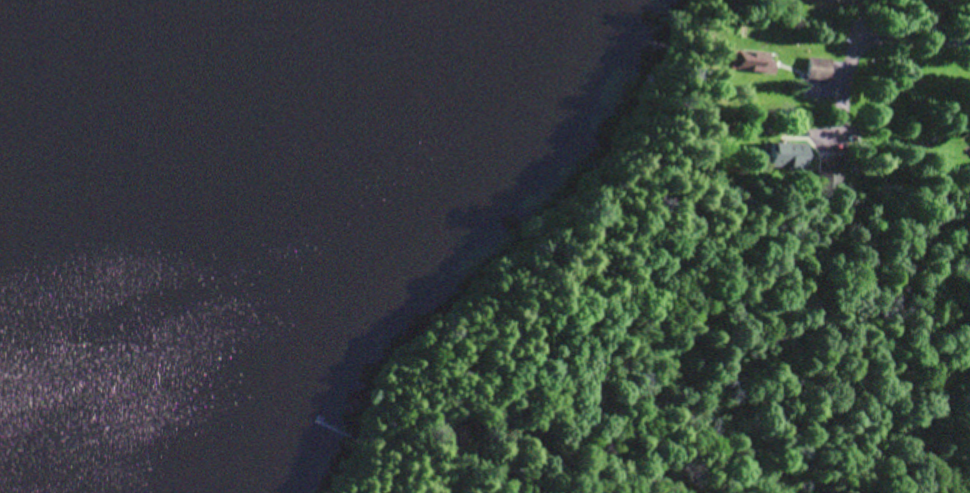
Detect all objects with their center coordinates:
road: (848, 27)
road: (907, 55)
building: (754, 62)
building: (818, 69)
building: (784, 154)
building: (829, 173)
building: (454, 438)

